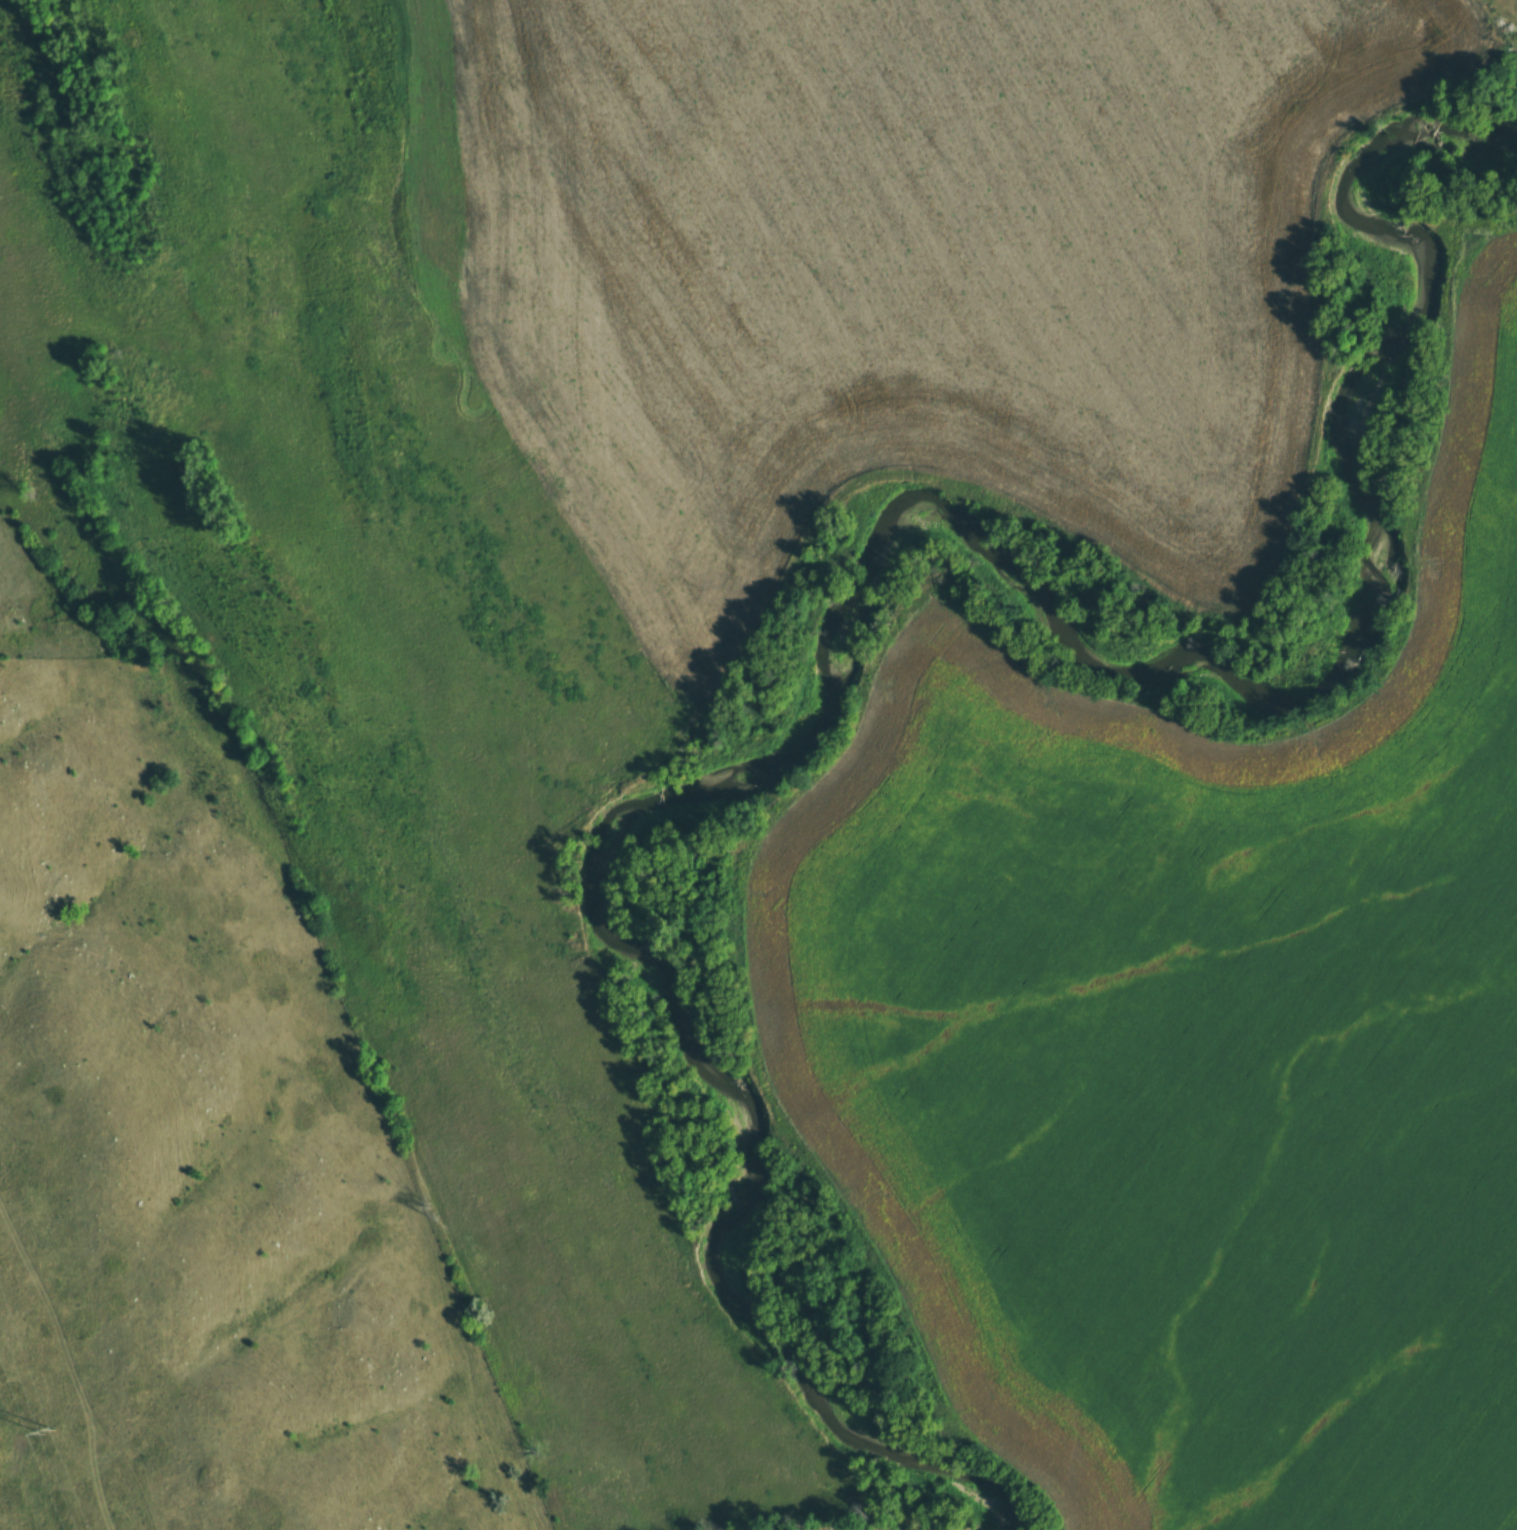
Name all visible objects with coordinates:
river: (877, 586)
crop: (1192, 1045)
power tower: (47, 1431)

